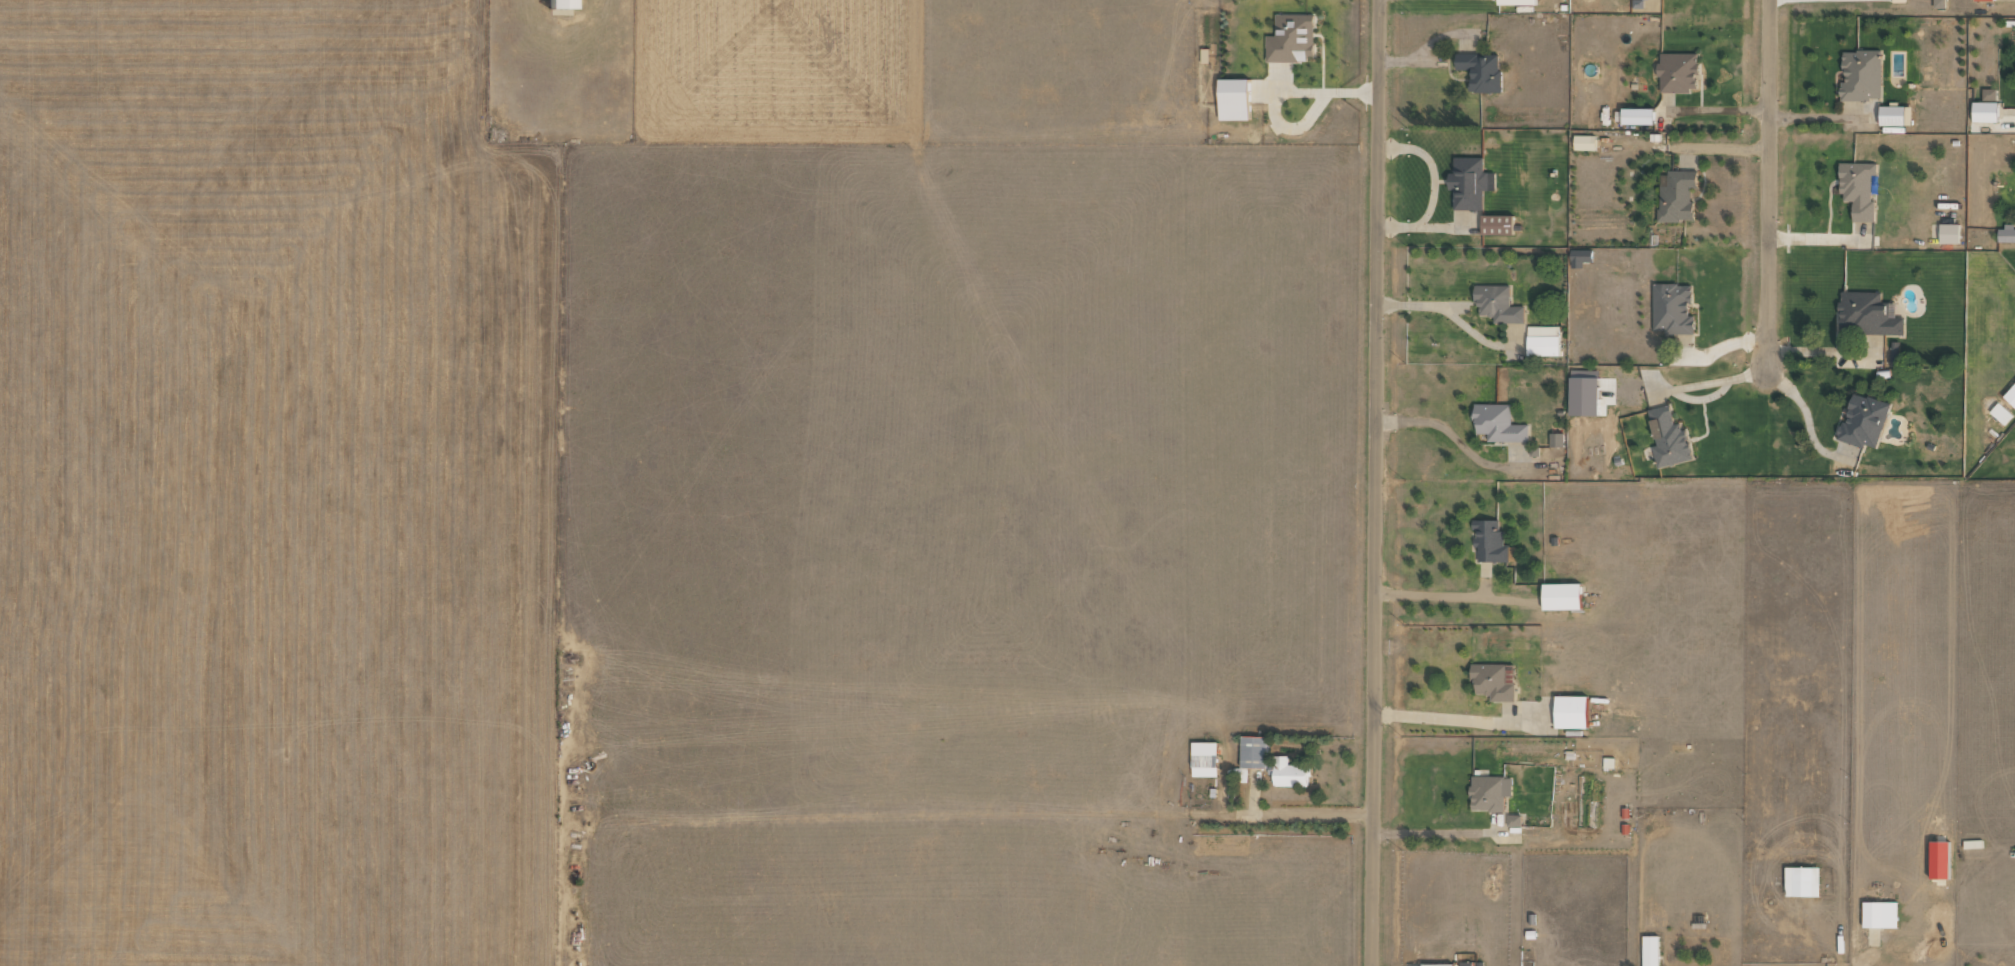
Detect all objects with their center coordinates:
building: (1515, 2)
building: (558, 4)
building: (1938, 4)
building: (1291, 39)
building: (1480, 71)
building: (1677, 72)
building: (1860, 75)
building: (1988, 94)
building: (1233, 100)
building: (1984, 111)
building: (1894, 115)
building: (1637, 116)
building: (1584, 142)
building: (1469, 182)
road: (1765, 182)
building: (1857, 189)
building: (1676, 196)
building: (1496, 225)
building: (1948, 233)
building: (2006, 234)
building: (1579, 257)
building: (1497, 304)
building: (1671, 308)
building: (1867, 314)
building: (1542, 340)
building: (2010, 395)
building: (1583, 396)
building: (2000, 413)
building: (1862, 421)
building: (1497, 423)
building: (1667, 438)
building: (1555, 440)
road: (1372, 483)
building: (1489, 542)
building: (1560, 596)
building: (1492, 681)
building: (1570, 711)
building: (1252, 751)
building: (1203, 758)
building: (1608, 762)
building: (1287, 772)
building: (1489, 792)
building: (1513, 820)
building: (1938, 859)
building: (1801, 881)
building: (1879, 914)
building: (1649, 950)
building: (1437, 964)

